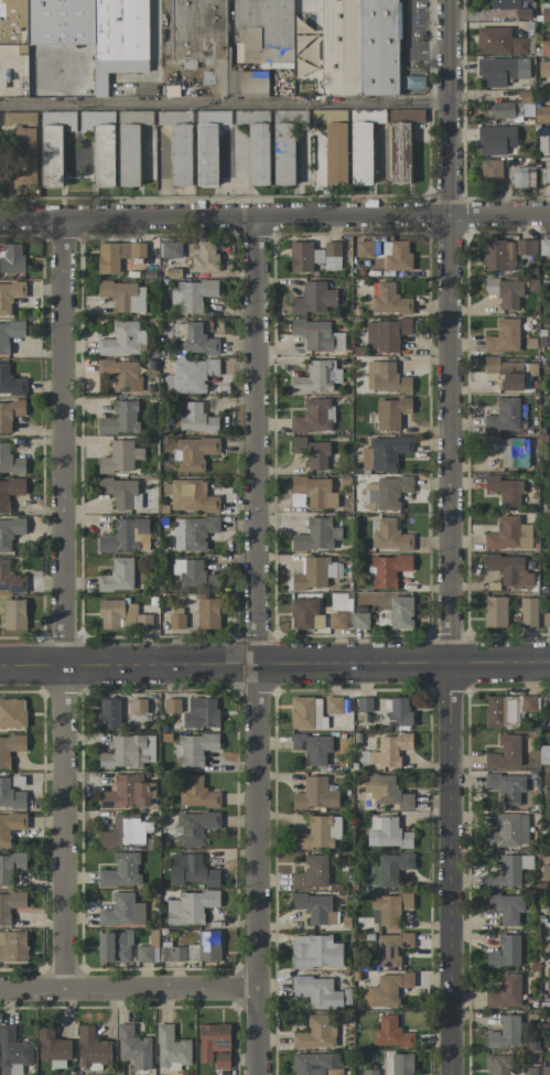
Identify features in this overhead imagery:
building: (508, 3)
building: (546, 12)
building: (263, 31)
road: (409, 42)
building: (499, 42)
building: (544, 44)
building: (68, 45)
building: (211, 46)
building: (358, 46)
building: (543, 68)
building: (500, 71)
road: (223, 104)
building: (508, 110)
building: (541, 115)
building: (328, 116)
building: (244, 117)
building: (496, 140)
building: (543, 140)
building: (401, 143)
building: (100, 144)
building: (207, 144)
building: (53, 146)
building: (130, 146)
building: (360, 148)
building: (21, 151)
building: (283, 153)
building: (182, 154)
building: (258, 154)
building: (336, 154)
building: (547, 171)
building: (490, 172)
building: (519, 178)
road: (274, 218)
building: (526, 247)
building: (544, 247)
building: (367, 248)
building: (171, 249)
building: (117, 255)
building: (314, 256)
building: (397, 256)
building: (498, 256)
building: (205, 258)
building: (12, 259)
building: (505, 292)
building: (193, 294)
building: (10, 295)
building: (123, 295)
building: (314, 299)
building: (388, 300)
building: (9, 334)
building: (386, 334)
building: (317, 335)
building: (504, 336)
building: (121, 340)
building: (193, 340)
building: (506, 373)
building: (121, 374)
building: (191, 375)
building: (317, 378)
building: (386, 378)
building: (10, 383)
building: (391, 412)
building: (10, 413)
building: (504, 416)
building: (313, 417)
building: (120, 419)
building: (195, 419)
building: (549, 430)
building: (509, 451)
building: (194, 452)
building: (312, 452)
building: (385, 453)
building: (120, 456)
building: (10, 462)
building: (505, 491)
building: (10, 492)
building: (121, 492)
building: (315, 492)
building: (386, 493)
building: (190, 496)
building: (10, 533)
building: (193, 533)
building: (508, 535)
building: (126, 536)
building: (316, 536)
building: (390, 536)
road: (447, 537)
building: (387, 570)
building: (509, 570)
building: (314, 573)
building: (118, 576)
building: (194, 576)
building: (10, 580)
road: (63, 604)
building: (495, 612)
building: (528, 612)
building: (207, 613)
building: (305, 613)
building: (400, 613)
building: (14, 614)
building: (121, 616)
building: (176, 619)
building: (337, 620)
building: (359, 620)
building: (546, 620)
road: (256, 647)
road: (274, 664)
building: (529, 703)
building: (333, 705)
building: (138, 706)
building: (172, 706)
building: (399, 711)
building: (502, 711)
building: (12, 713)
building: (109, 713)
building: (202, 713)
building: (306, 713)
building: (313, 748)
building: (10, 749)
building: (194, 749)
building: (389, 751)
building: (128, 752)
building: (505, 753)
building: (506, 787)
building: (387, 791)
building: (128, 793)
building: (197, 794)
building: (10, 795)
building: (315, 795)
building: (10, 827)
building: (194, 827)
building: (126, 831)
building: (508, 831)
building: (319, 832)
building: (387, 832)
building: (10, 868)
building: (389, 869)
building: (191, 870)
building: (121, 871)
building: (509, 871)
building: (312, 873)
building: (10, 905)
building: (190, 907)
building: (504, 907)
building: (315, 909)
building: (389, 909)
building: (122, 911)
building: (12, 946)
building: (208, 946)
building: (115, 947)
building: (392, 947)
building: (192, 952)
building: (505, 952)
building: (315, 953)
building: (147, 954)
building: (174, 954)
road: (128, 987)
building: (386, 989)
building: (320, 992)
building: (505, 992)
building: (316, 1033)
building: (391, 1033)
building: (505, 1033)
building: (215, 1045)
building: (53, 1047)
building: (133, 1047)
building: (171, 1049)
building: (93, 1050)
building: (13, 1052)
building: (316, 1064)
building: (398, 1064)
building: (498, 1064)
building: (529, 1071)
building: (546, 1071)
building: (369, 1073)

